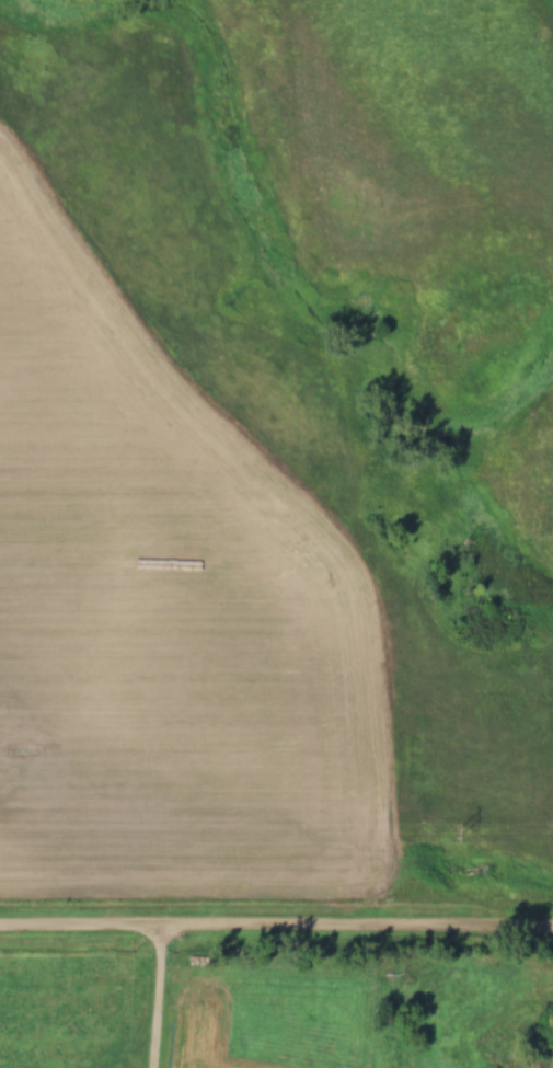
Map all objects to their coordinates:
power tower: (454, 834)
road: (276, 925)

